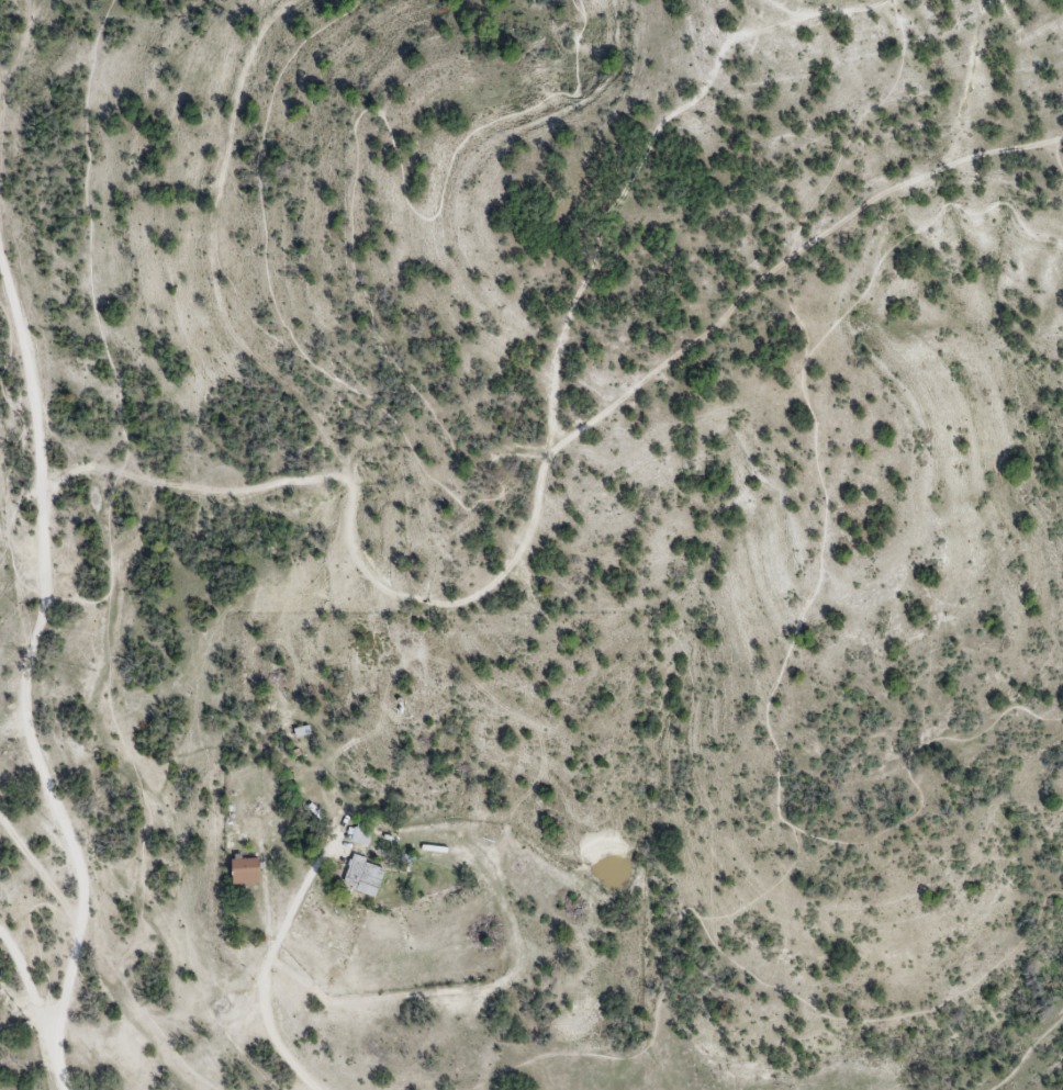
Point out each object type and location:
road: (787, 9)
road: (844, 10)
road: (231, 124)
road: (1060, 141)
road: (1058, 156)
road: (631, 195)
road: (90, 236)
road: (365, 296)
road: (279, 392)
road: (8, 501)
road: (539, 501)
road: (111, 566)
road: (783, 666)
road: (29, 672)
road: (20, 720)
building: (301, 731)
road: (52, 809)
building: (357, 834)
building: (231, 838)
building: (437, 849)
building: (245, 870)
building: (362, 876)
road: (38, 952)
road: (27, 984)
road: (132, 996)
road: (838, 1015)
road: (21, 1021)

